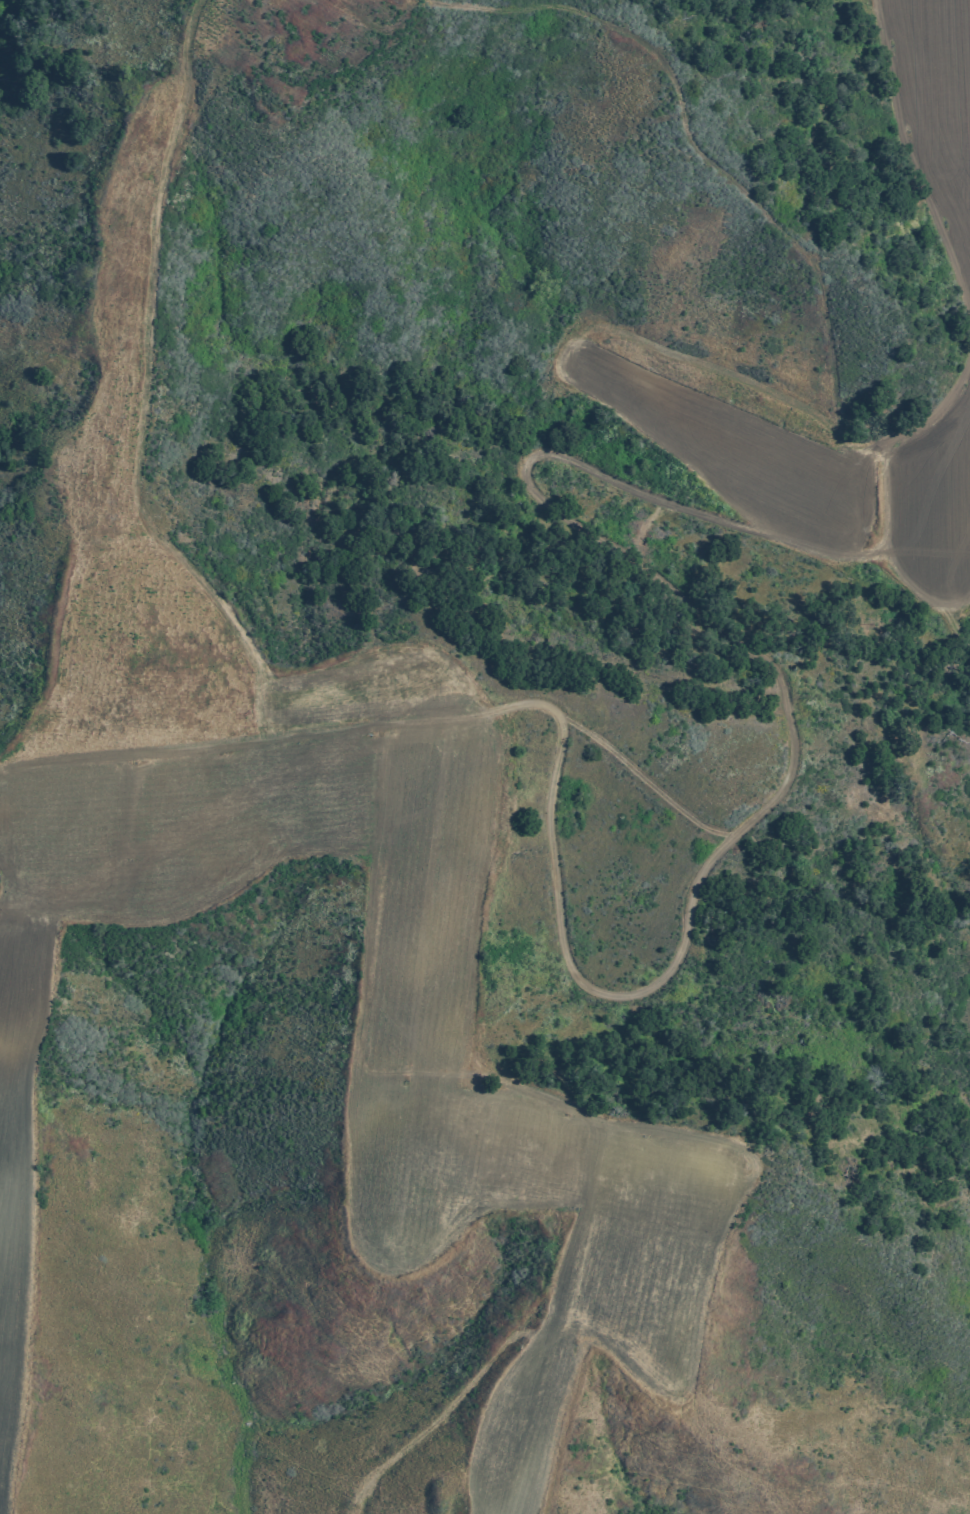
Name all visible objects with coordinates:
crop: (931, 108)
road: (777, 235)
road: (125, 387)
crop: (787, 450)
road: (784, 789)
crop: (256, 810)
road: (580, 977)
road: (556, 1105)

